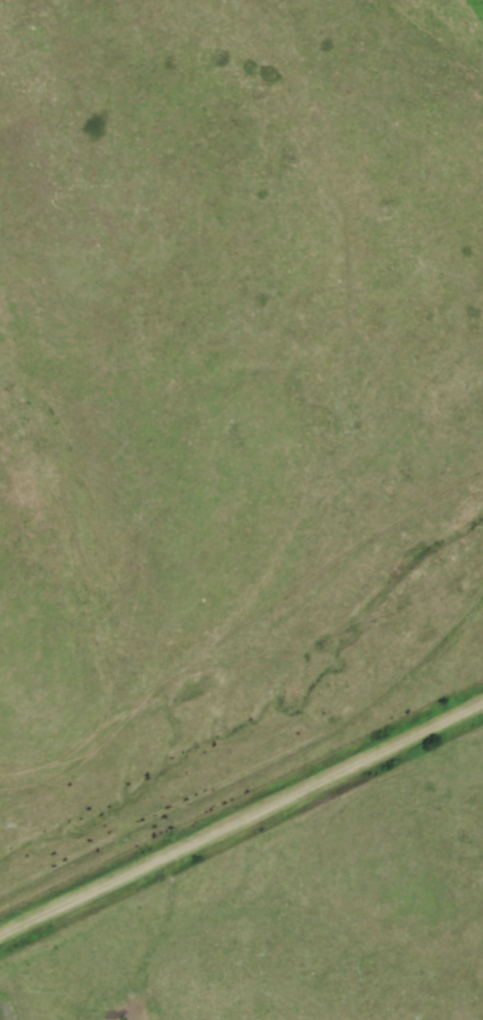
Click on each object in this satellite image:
road: (241, 821)

